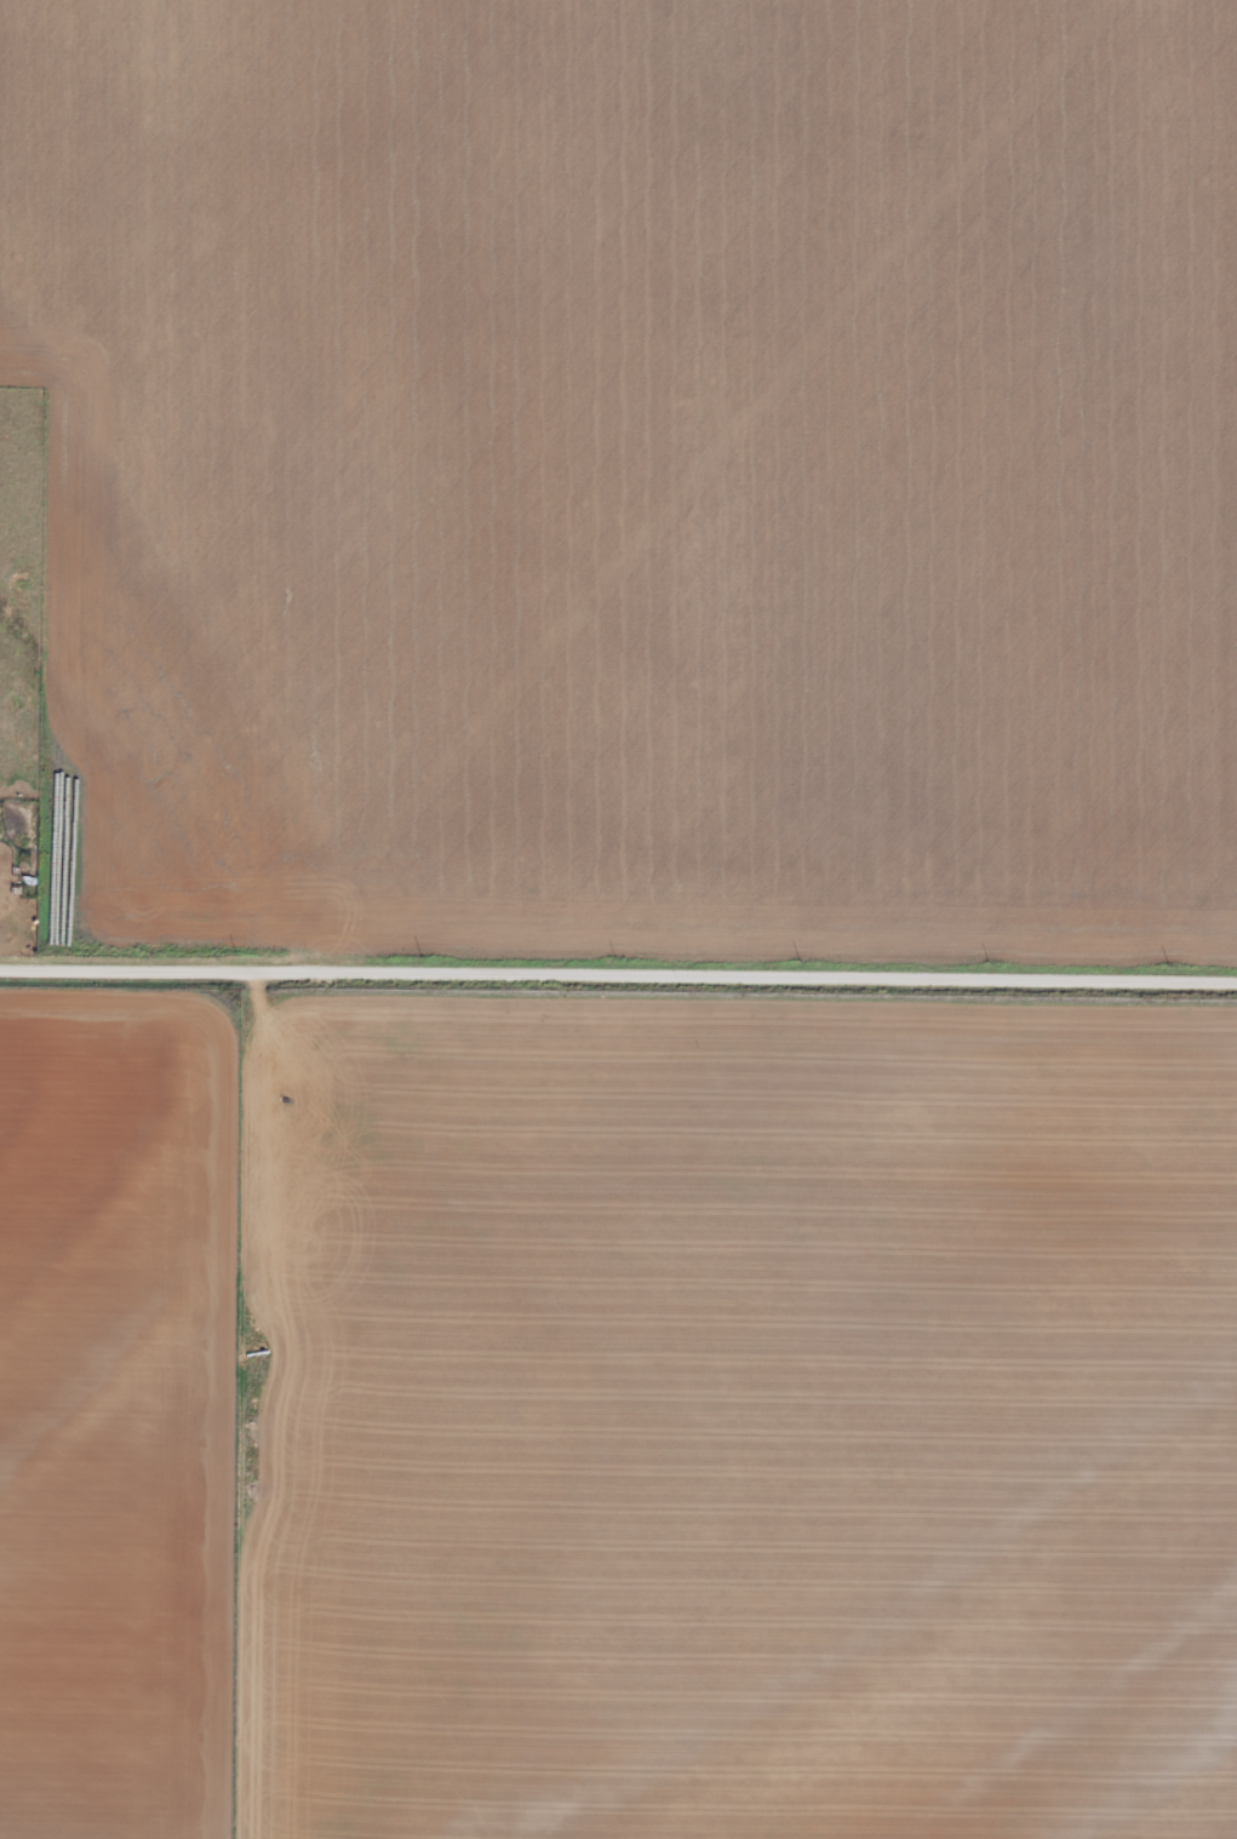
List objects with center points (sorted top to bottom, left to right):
road: (618, 972)

